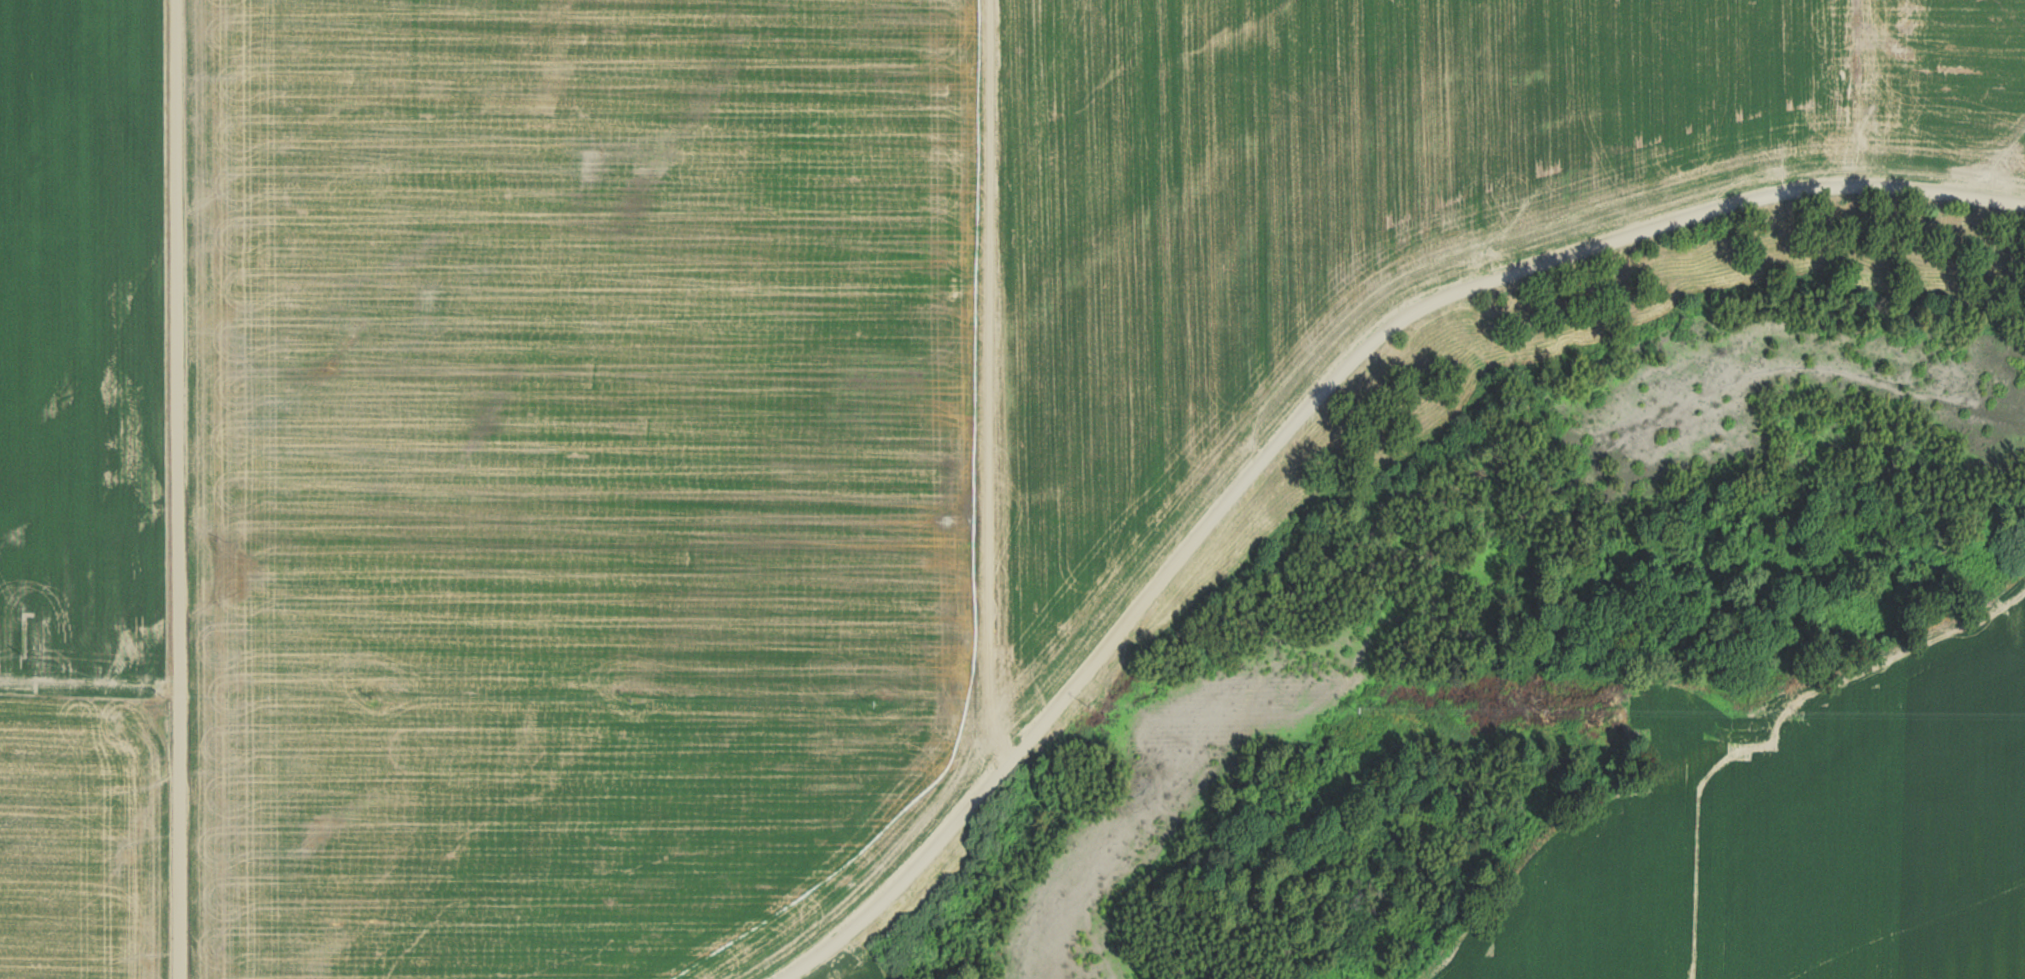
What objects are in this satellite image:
road: (993, 382)
road: (1310, 405)
road: (181, 489)

